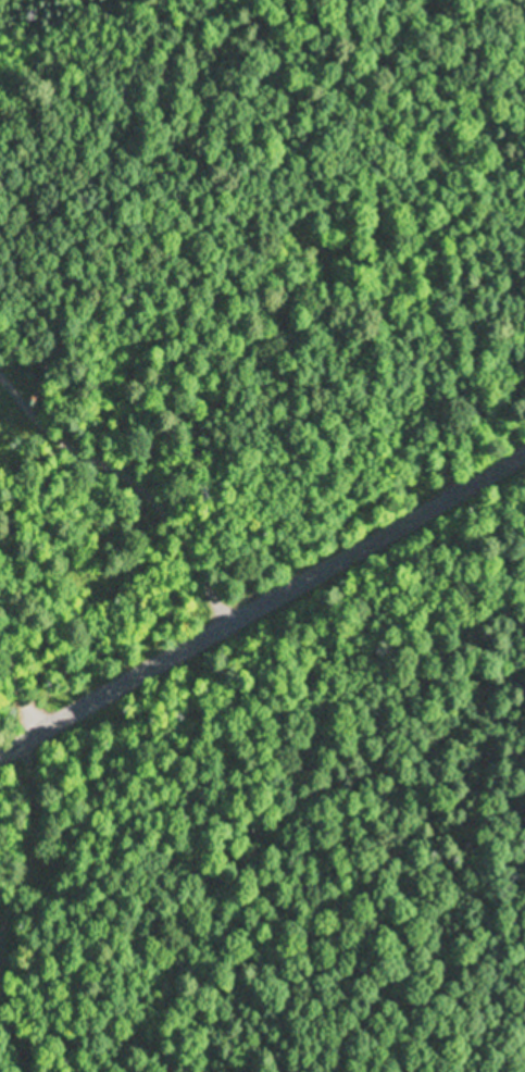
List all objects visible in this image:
road: (486, 162)
road: (79, 568)
road: (262, 602)

